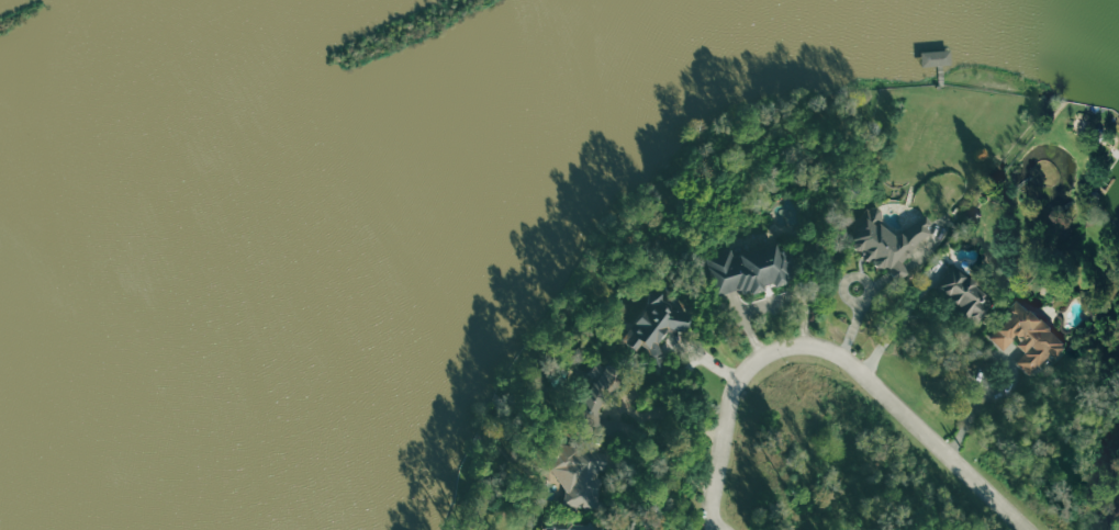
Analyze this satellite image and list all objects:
building: (938, 57)
building: (887, 243)
building: (965, 294)
road: (900, 322)
building: (660, 323)
building: (1030, 338)
road: (833, 353)
road: (977, 397)
road: (663, 431)
building: (575, 472)
road: (664, 482)
road: (716, 527)

